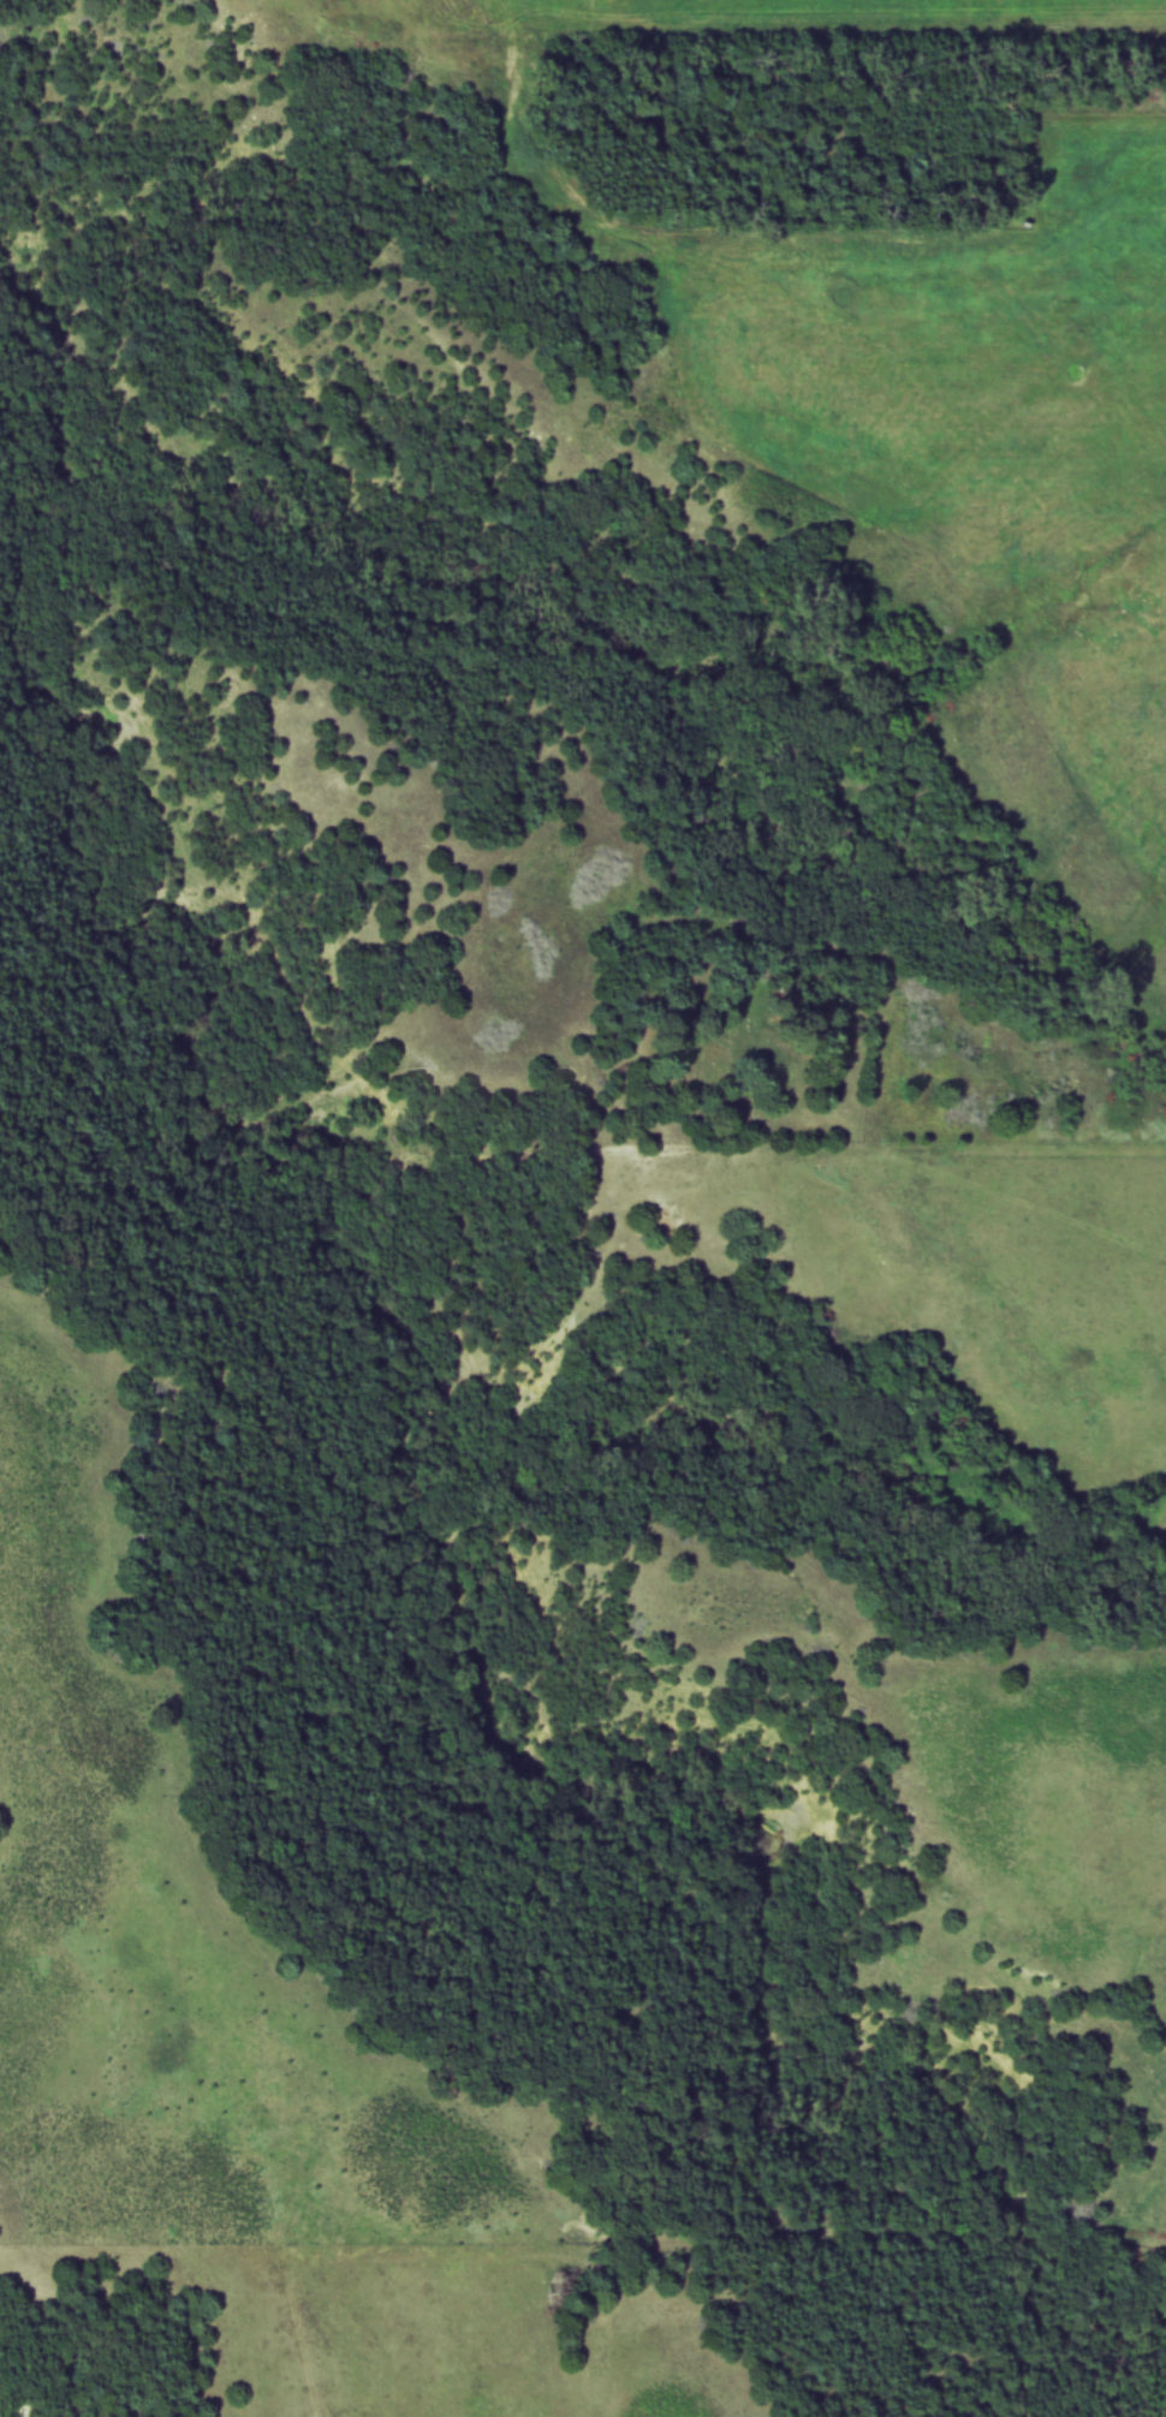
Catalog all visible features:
park: (743, 1038)

